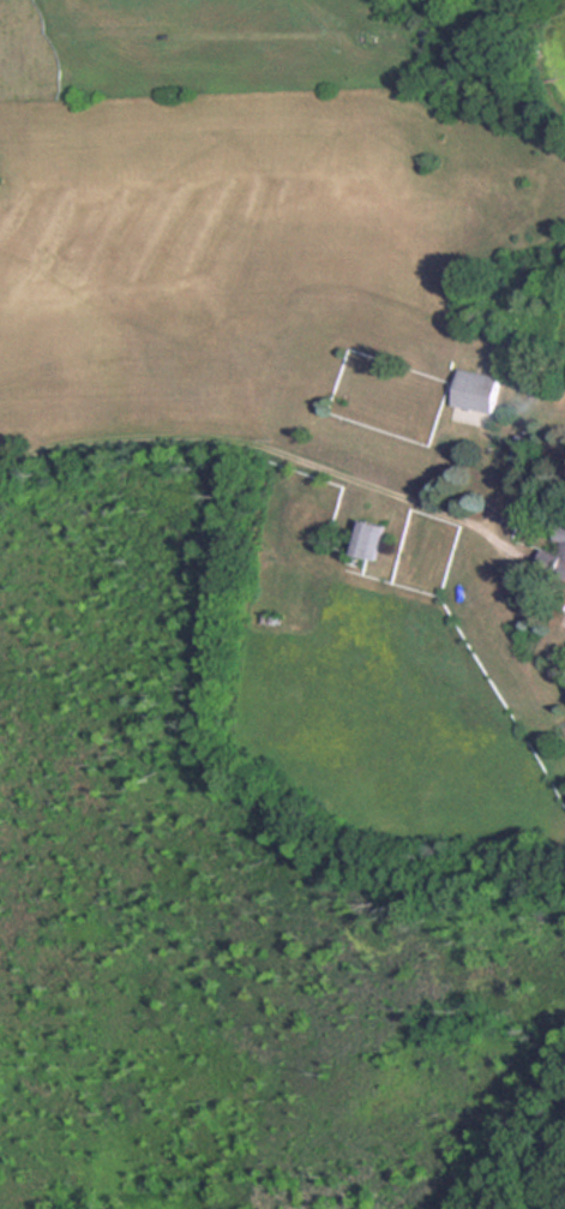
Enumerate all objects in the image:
building: (477, 390)
road: (269, 449)
building: (561, 529)
building: (368, 537)
building: (563, 568)

